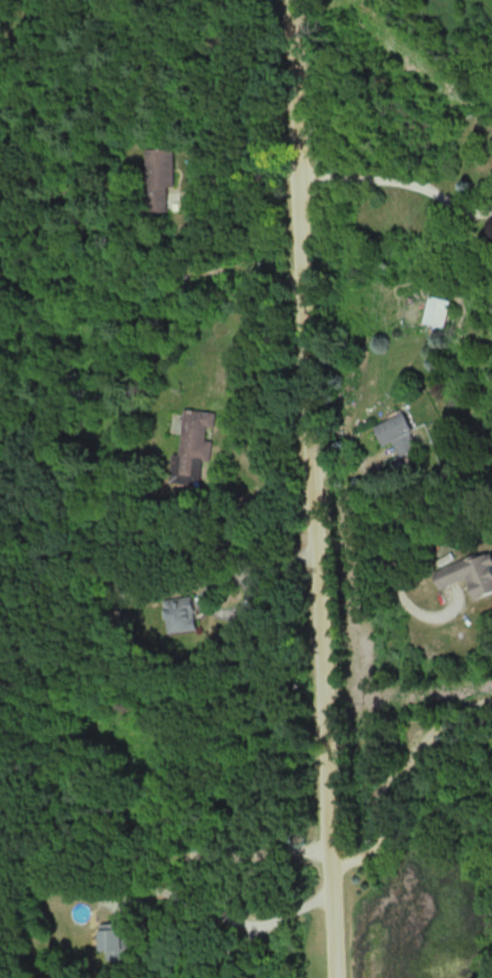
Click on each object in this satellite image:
building: (161, 176)
road: (401, 176)
building: (439, 310)
building: (397, 428)
building: (194, 439)
road: (315, 489)
building: (470, 573)
road: (393, 578)
road: (222, 581)
building: (182, 613)
road: (388, 777)
road: (164, 854)
road: (229, 916)
building: (113, 939)

